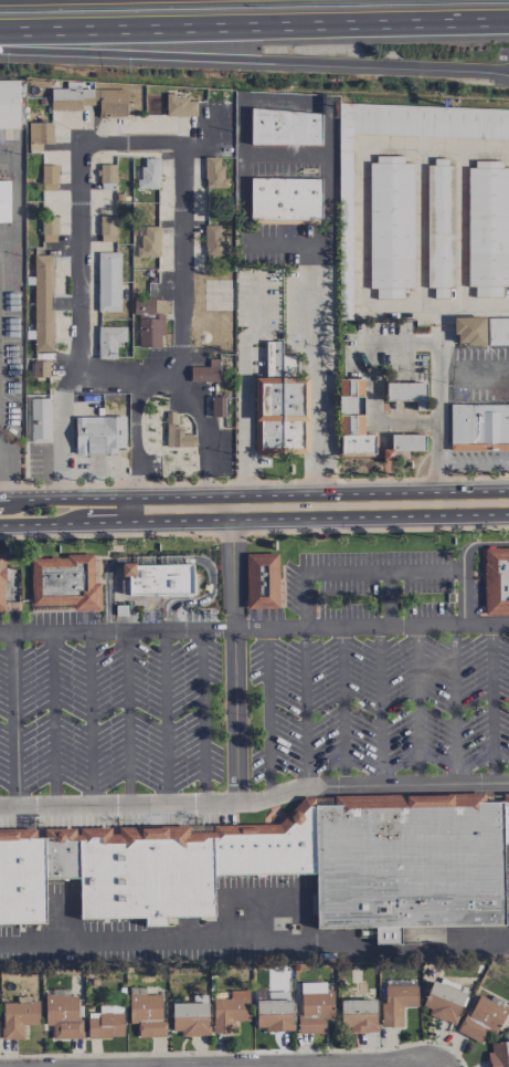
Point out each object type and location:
road: (254, 34)
road: (254, 59)
building: (88, 98)
building: (9, 103)
building: (179, 105)
building: (284, 127)
building: (39, 132)
road: (141, 144)
building: (213, 171)
building: (147, 174)
building: (106, 176)
building: (47, 177)
road: (360, 189)
road: (22, 195)
building: (3, 200)
building: (284, 200)
road: (328, 201)
building: (343, 223)
building: (437, 223)
building: (390, 227)
building: (47, 228)
building: (106, 228)
building: (487, 228)
road: (241, 236)
building: (212, 240)
building: (148, 241)
building: (107, 281)
building: (40, 303)
road: (475, 303)
building: (150, 321)
road: (442, 323)
building: (468, 329)
building: (497, 331)
building: (108, 339)
road: (420, 342)
building: (39, 368)
building: (205, 372)
road: (123, 378)
building: (406, 393)
road: (242, 396)
building: (280, 405)
building: (218, 406)
building: (351, 418)
building: (39, 421)
building: (478, 426)
building: (99, 433)
building: (406, 442)
road: (134, 448)
road: (4, 470)
road: (286, 494)
road: (1, 499)
road: (33, 499)
road: (289, 517)
road: (39, 523)
road: (3, 524)
road: (165, 558)
road: (465, 564)
road: (384, 569)
building: (159, 575)
building: (261, 580)
building: (496, 580)
building: (64, 582)
building: (1, 583)
road: (108, 586)
road: (390, 598)
road: (200, 600)
road: (305, 600)
road: (254, 630)
road: (233, 649)
road: (491, 703)
road: (453, 704)
road: (415, 705)
road: (380, 707)
road: (341, 708)
road: (306, 709)
road: (268, 714)
road: (166, 718)
road: (203, 718)
road: (89, 719)
road: (128, 719)
road: (15, 720)
road: (50, 720)
road: (255, 803)
building: (506, 823)
building: (293, 849)
building: (240, 856)
building: (63, 857)
building: (410, 866)
building: (147, 878)
building: (22, 880)
road: (255, 943)
building: (395, 1000)
building: (442, 1001)
building: (314, 1006)
building: (229, 1011)
building: (273, 1011)
building: (146, 1014)
building: (358, 1014)
building: (62, 1016)
building: (190, 1016)
building: (17, 1017)
building: (481, 1017)
building: (105, 1022)
building: (498, 1054)

